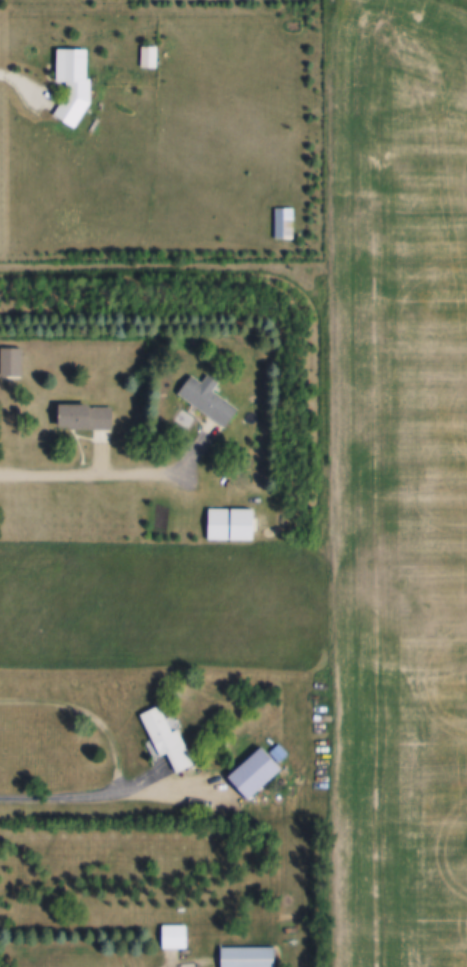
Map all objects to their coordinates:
building: (150, 54)
road: (24, 80)
building: (73, 81)
building: (286, 220)
building: (12, 359)
building: (209, 398)
building: (85, 414)
road: (199, 448)
road: (90, 471)
building: (232, 522)
building: (316, 695)
road: (90, 711)
building: (167, 742)
building: (254, 770)
road: (113, 791)
building: (176, 935)
building: (248, 956)
road: (192, 960)

